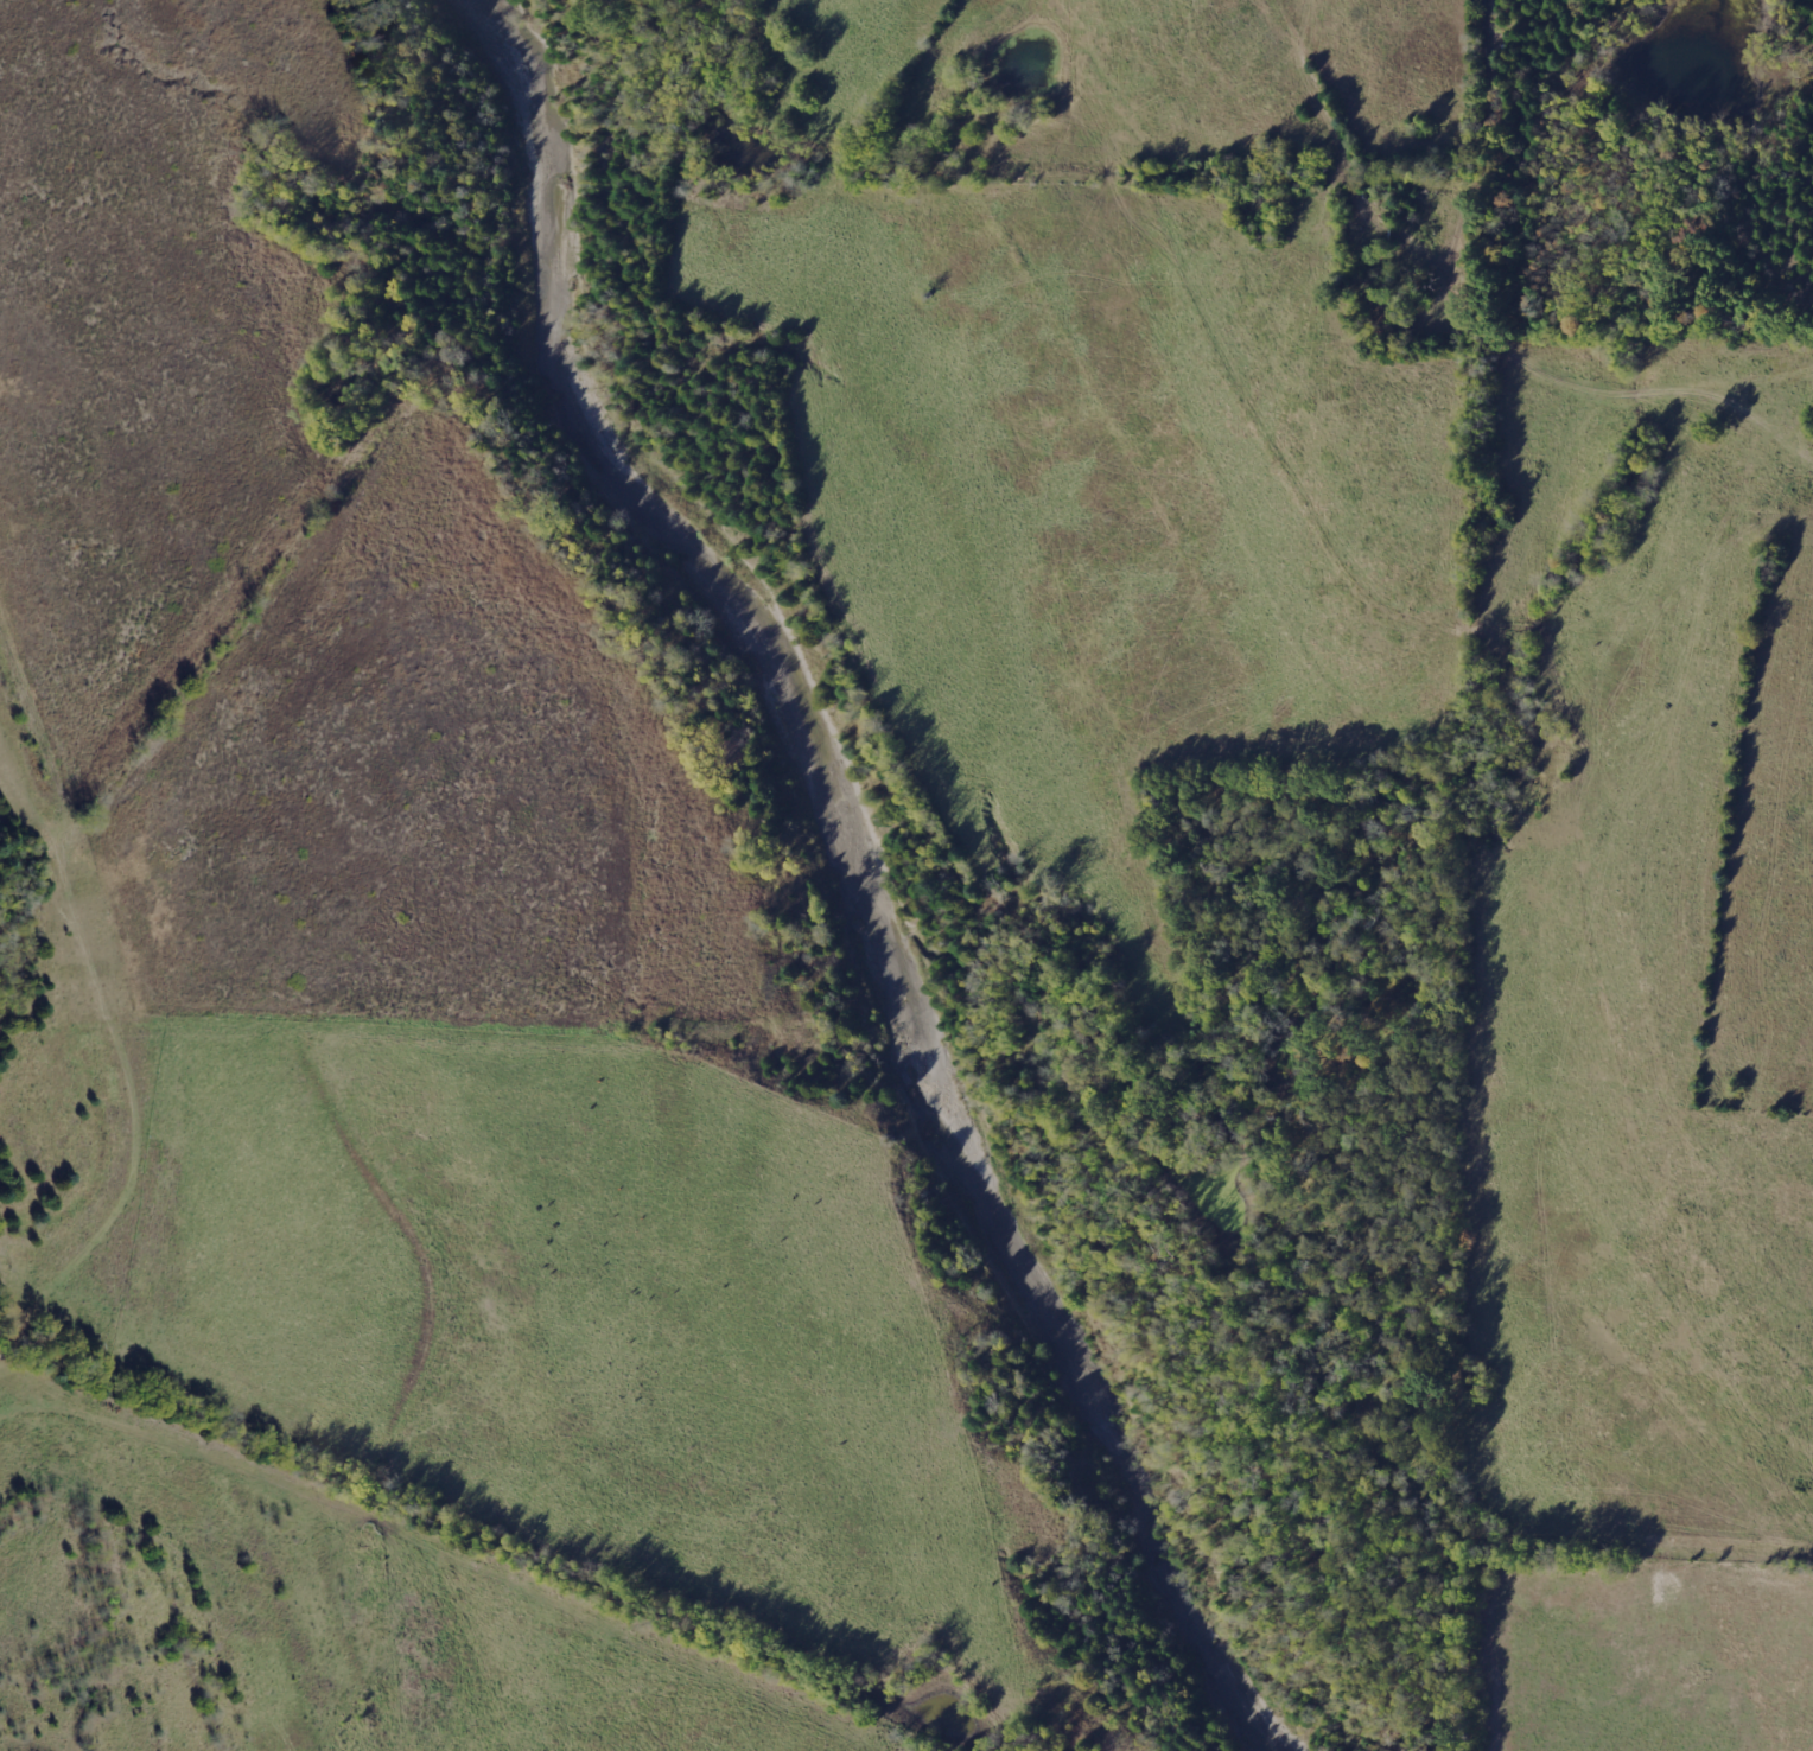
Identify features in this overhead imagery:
road: (1474, 58)

